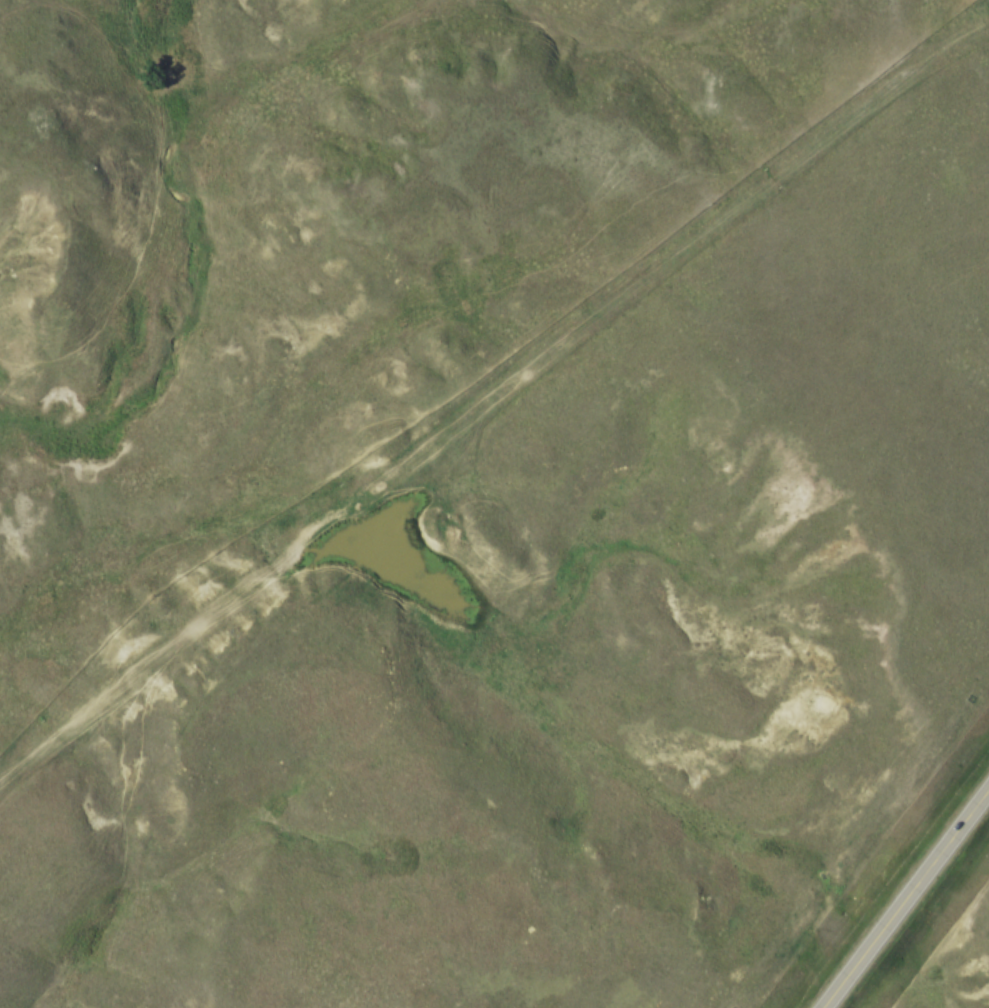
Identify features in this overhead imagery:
road: (482, 395)
road: (902, 894)

